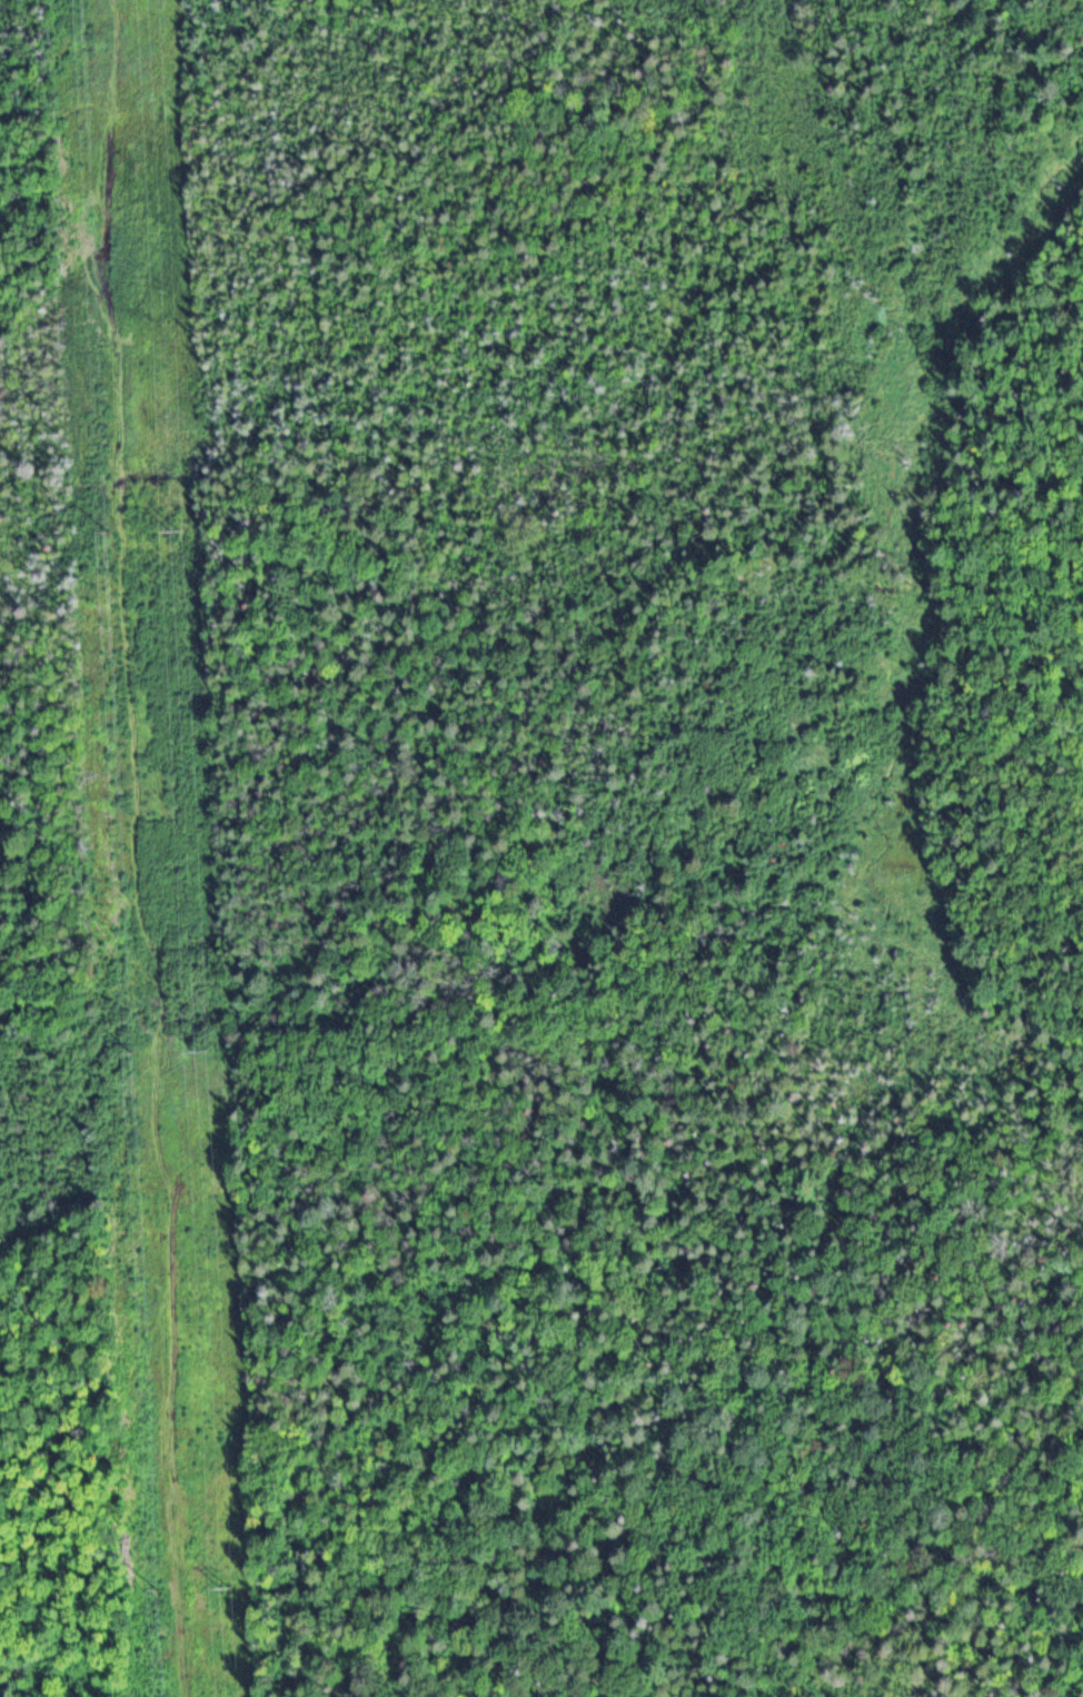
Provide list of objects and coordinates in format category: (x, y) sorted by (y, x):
river: (278, 548)

